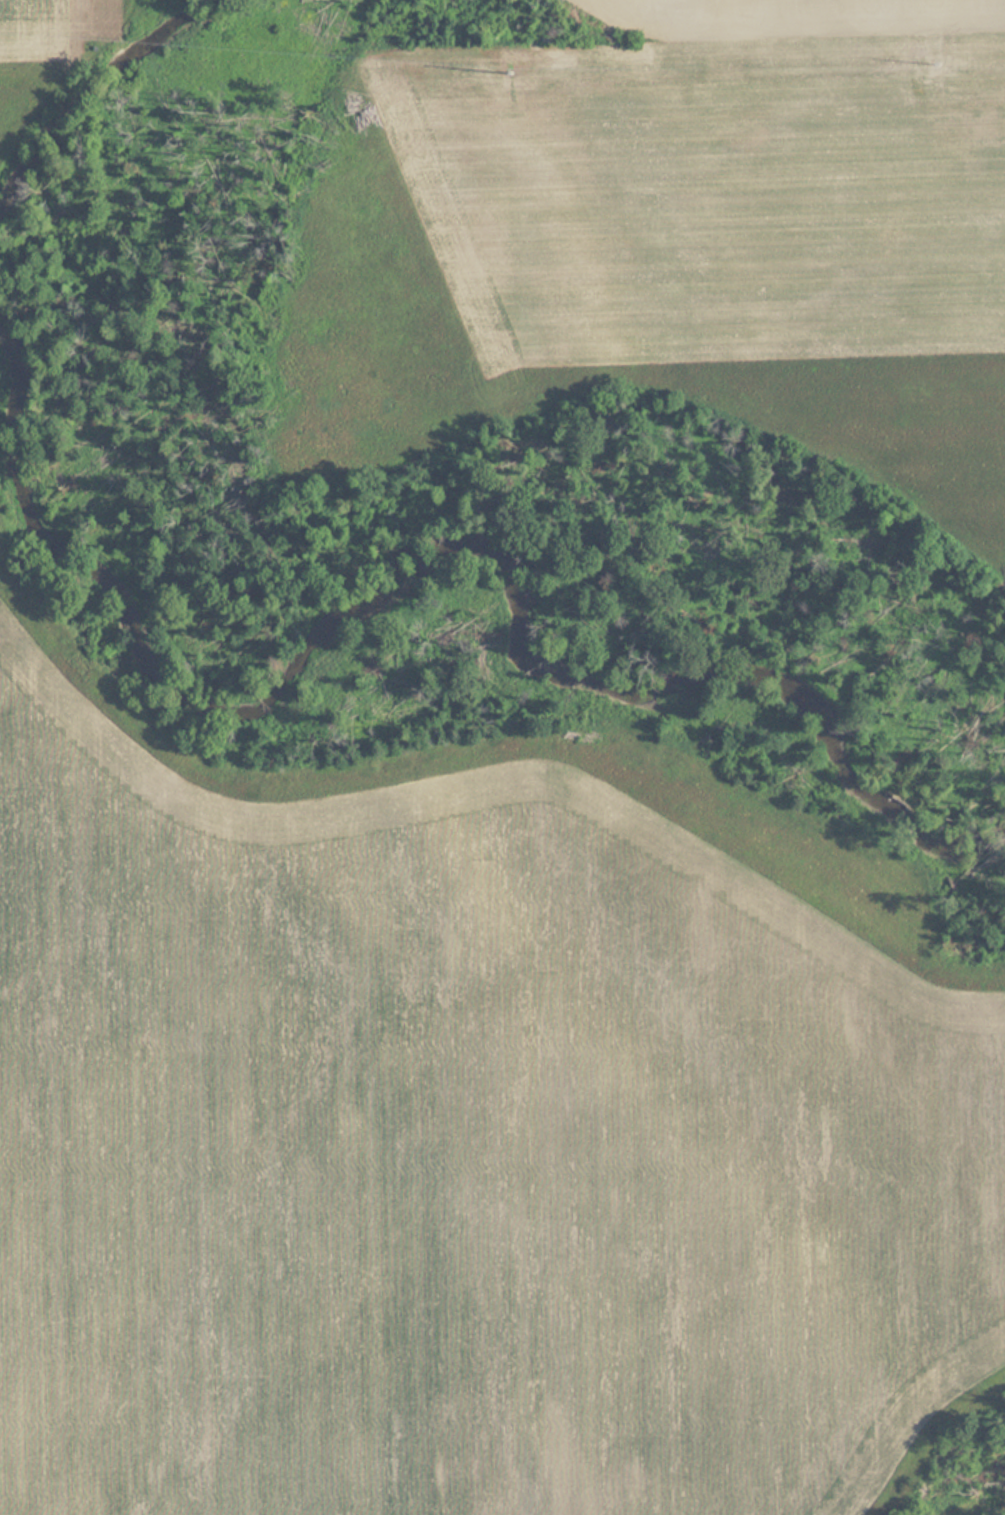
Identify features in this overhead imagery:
river: (257, 698)

